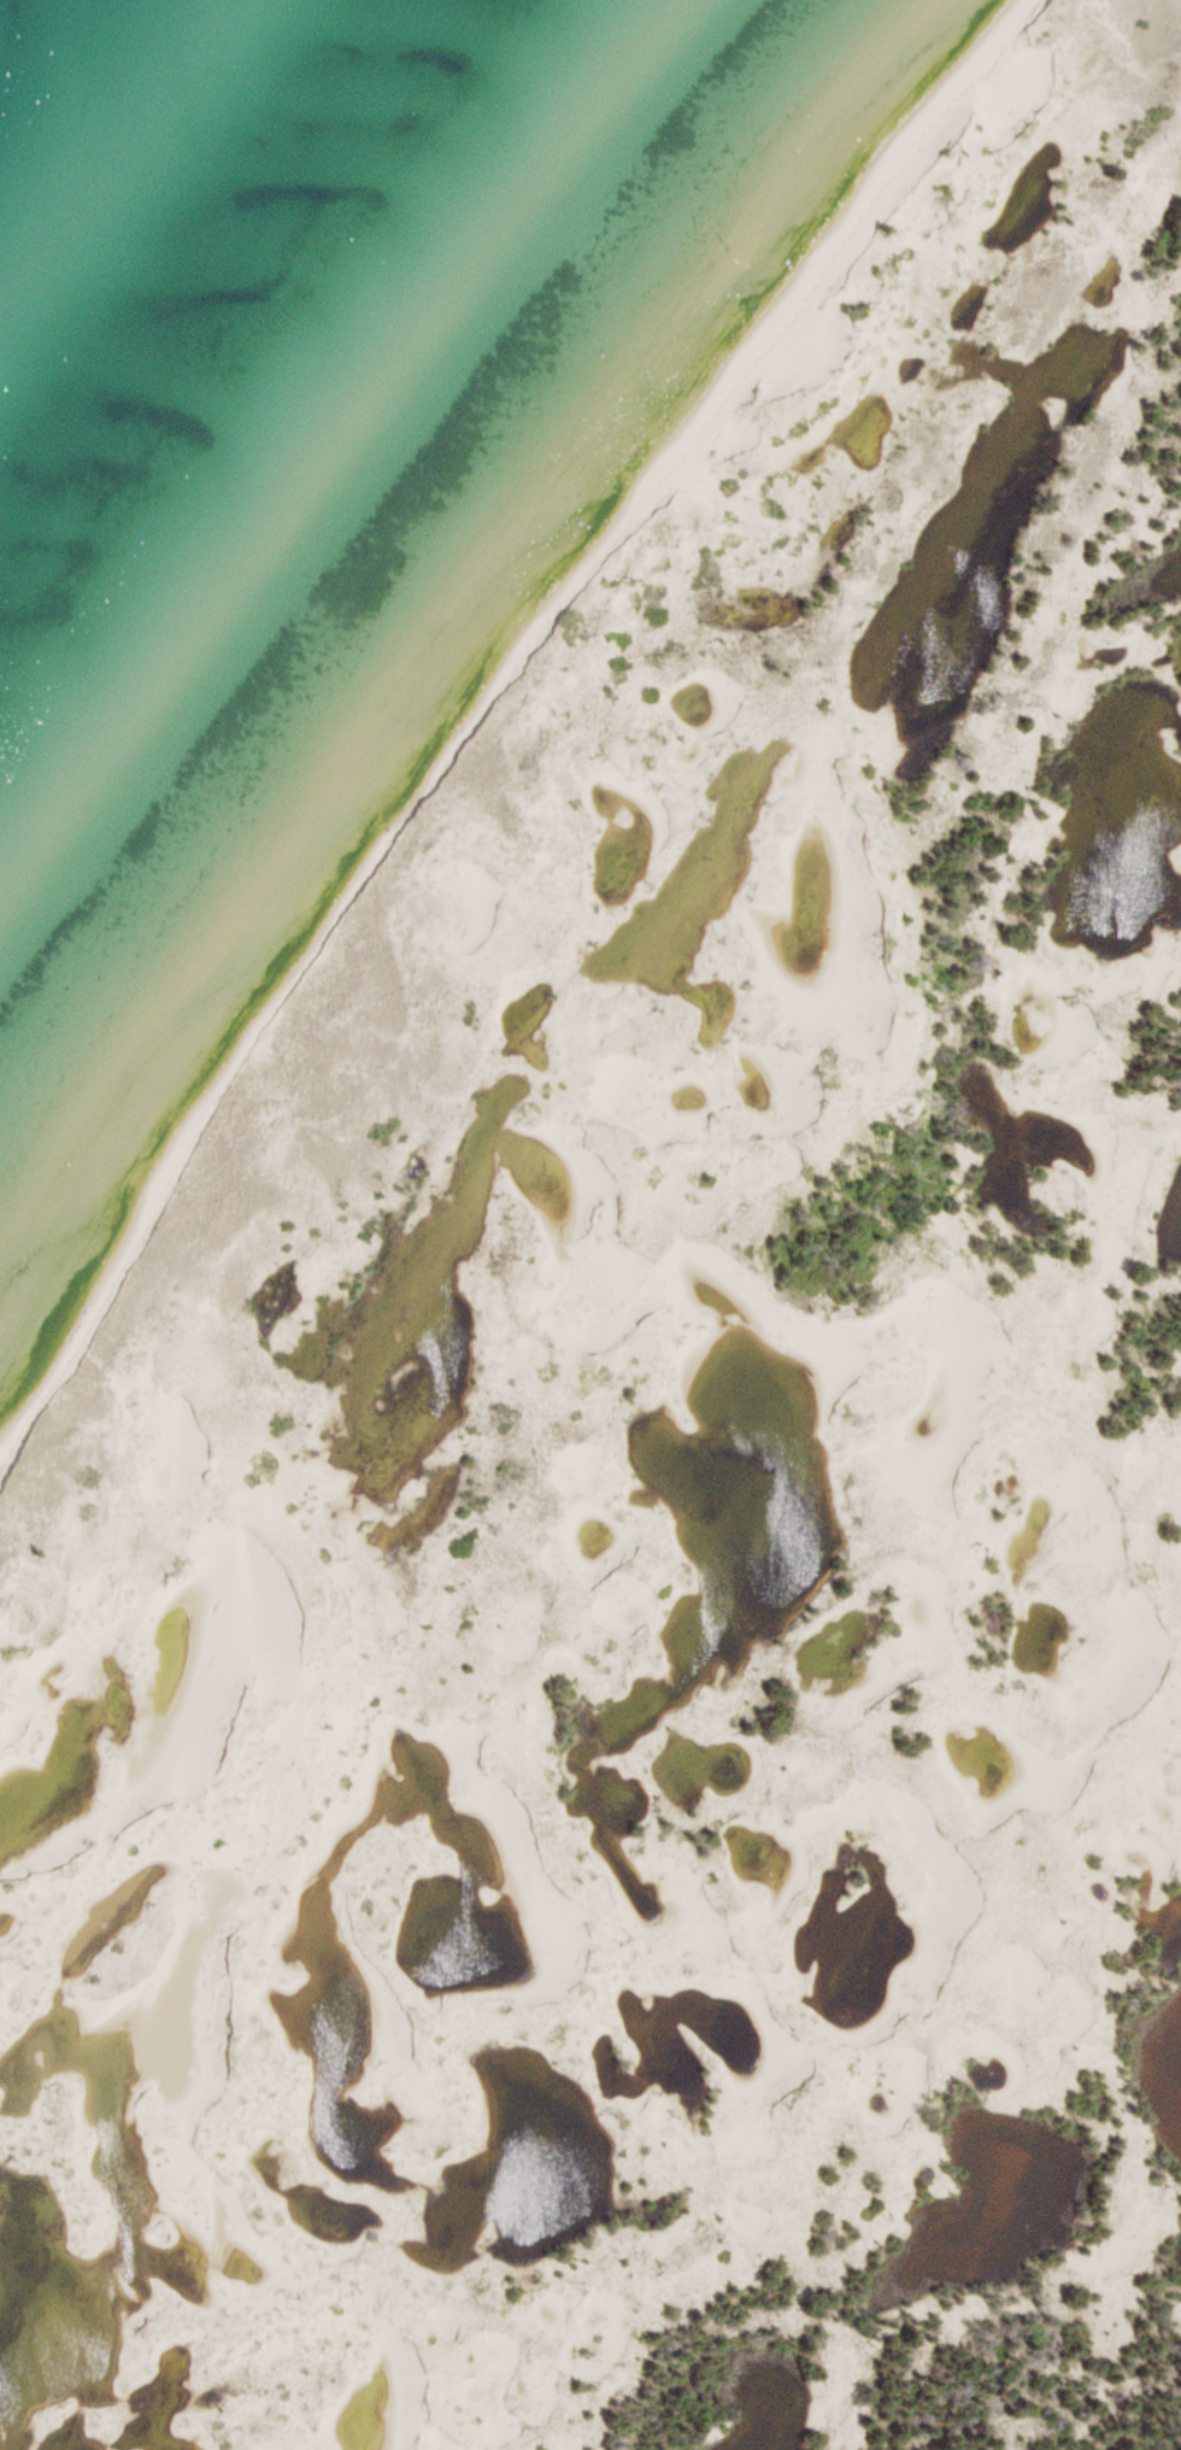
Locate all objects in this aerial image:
park: (657, 1397)

